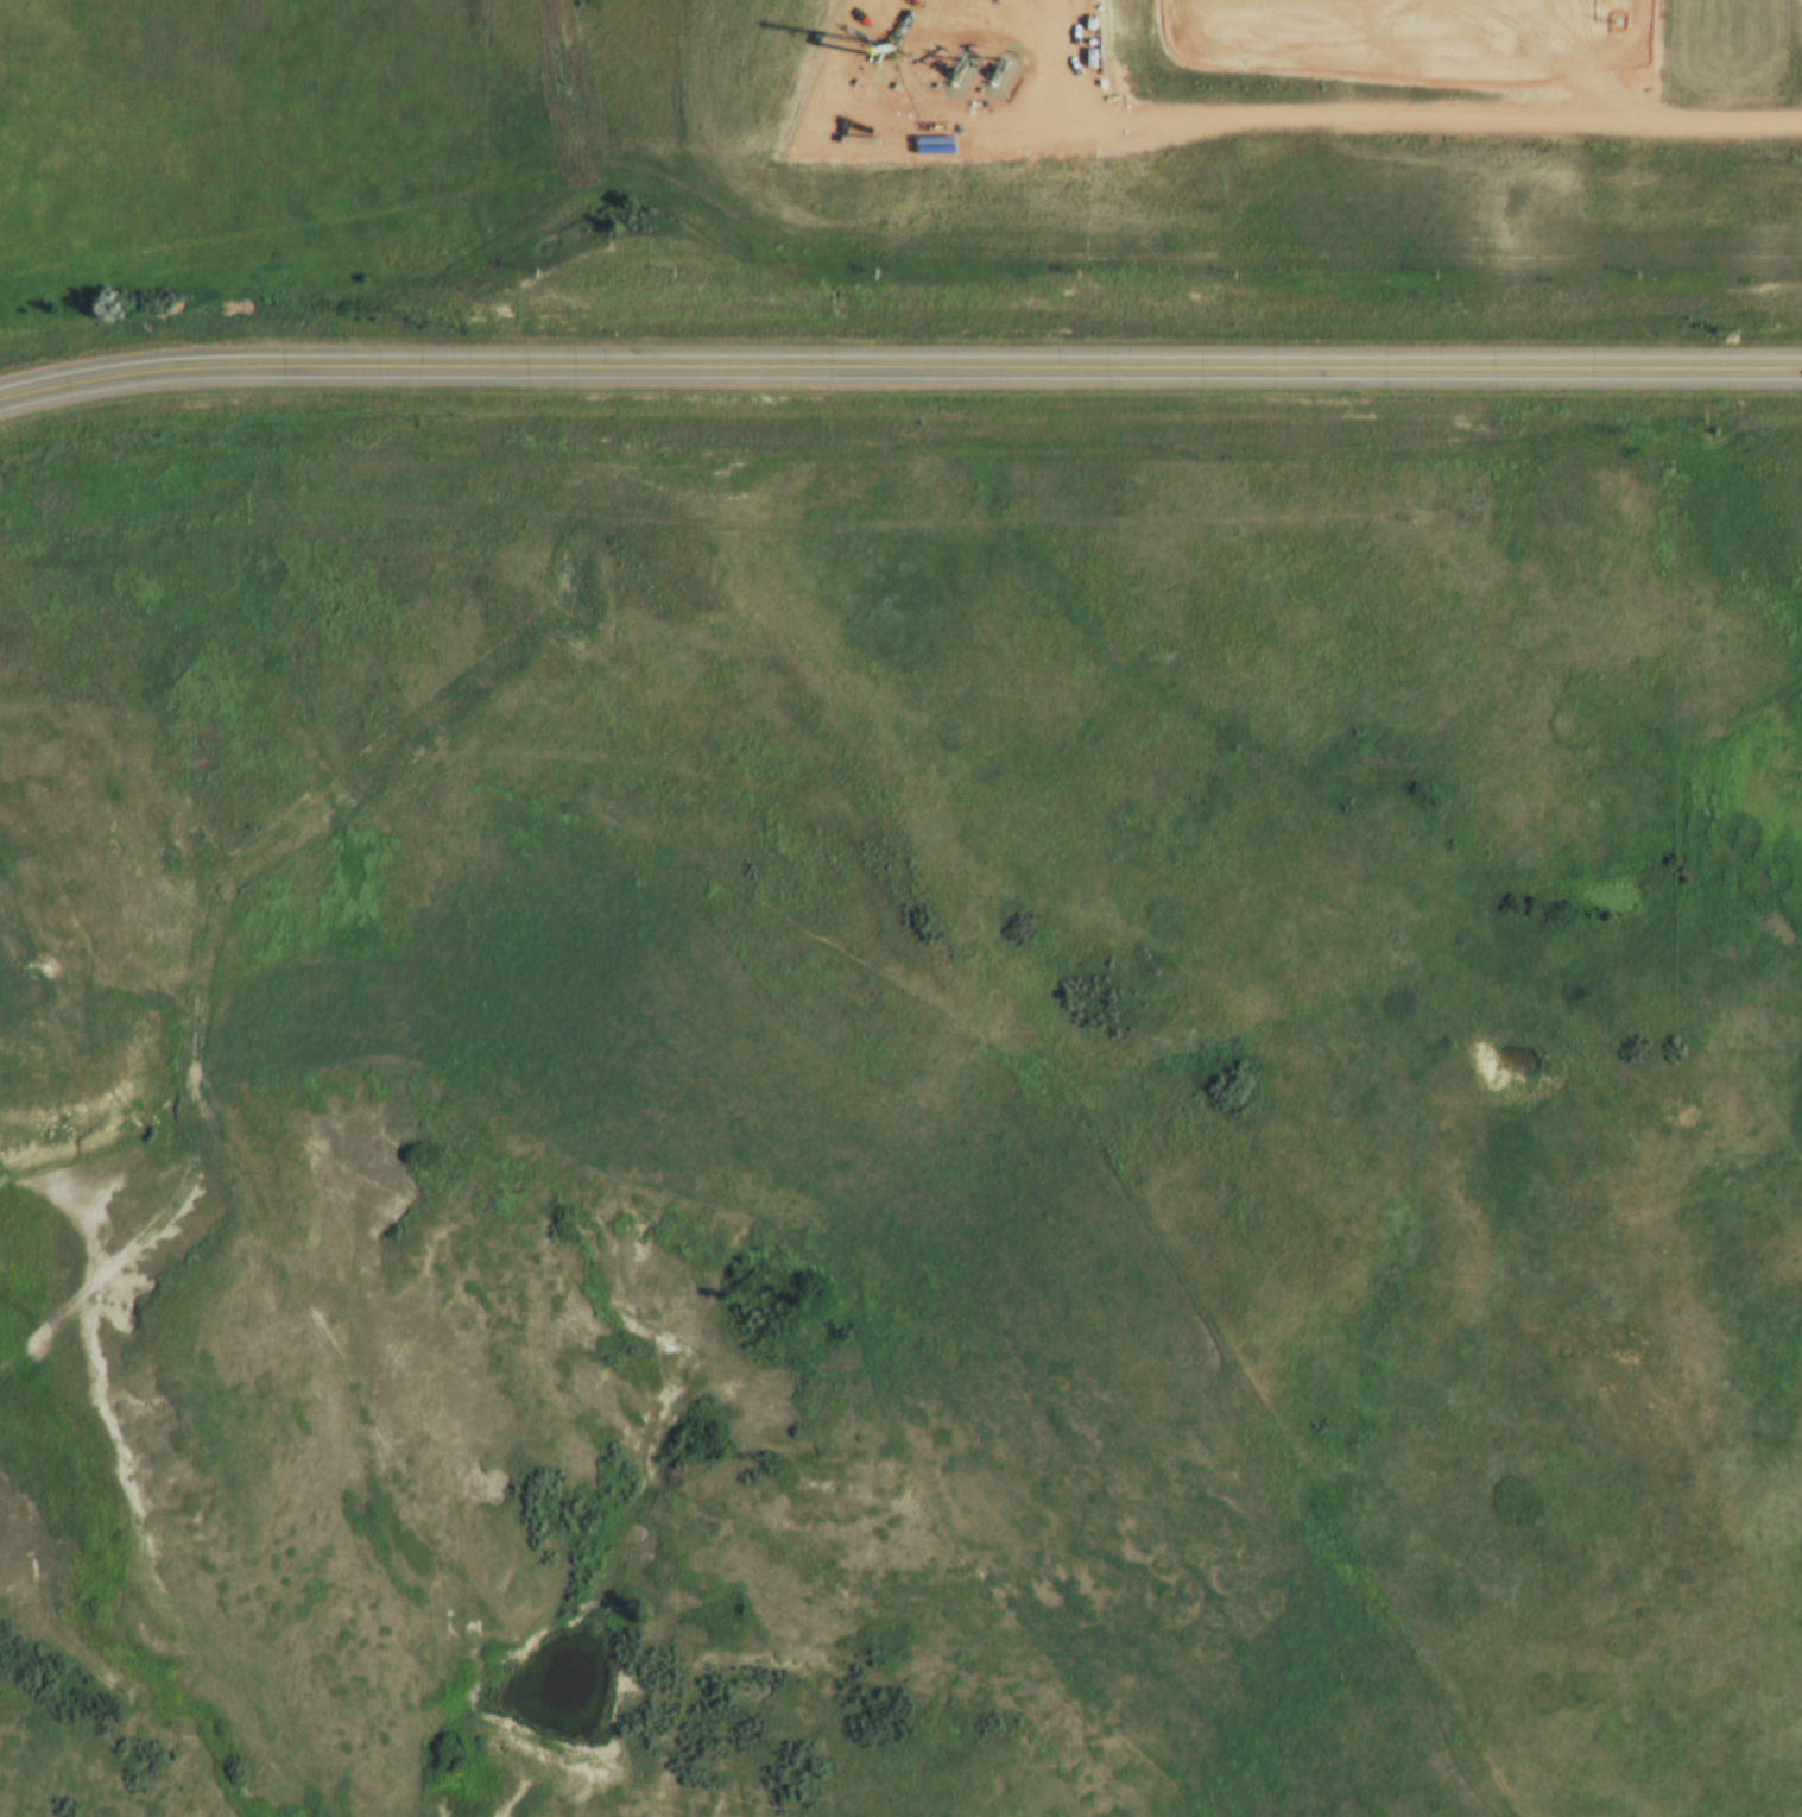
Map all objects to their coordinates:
road: (899, 370)

